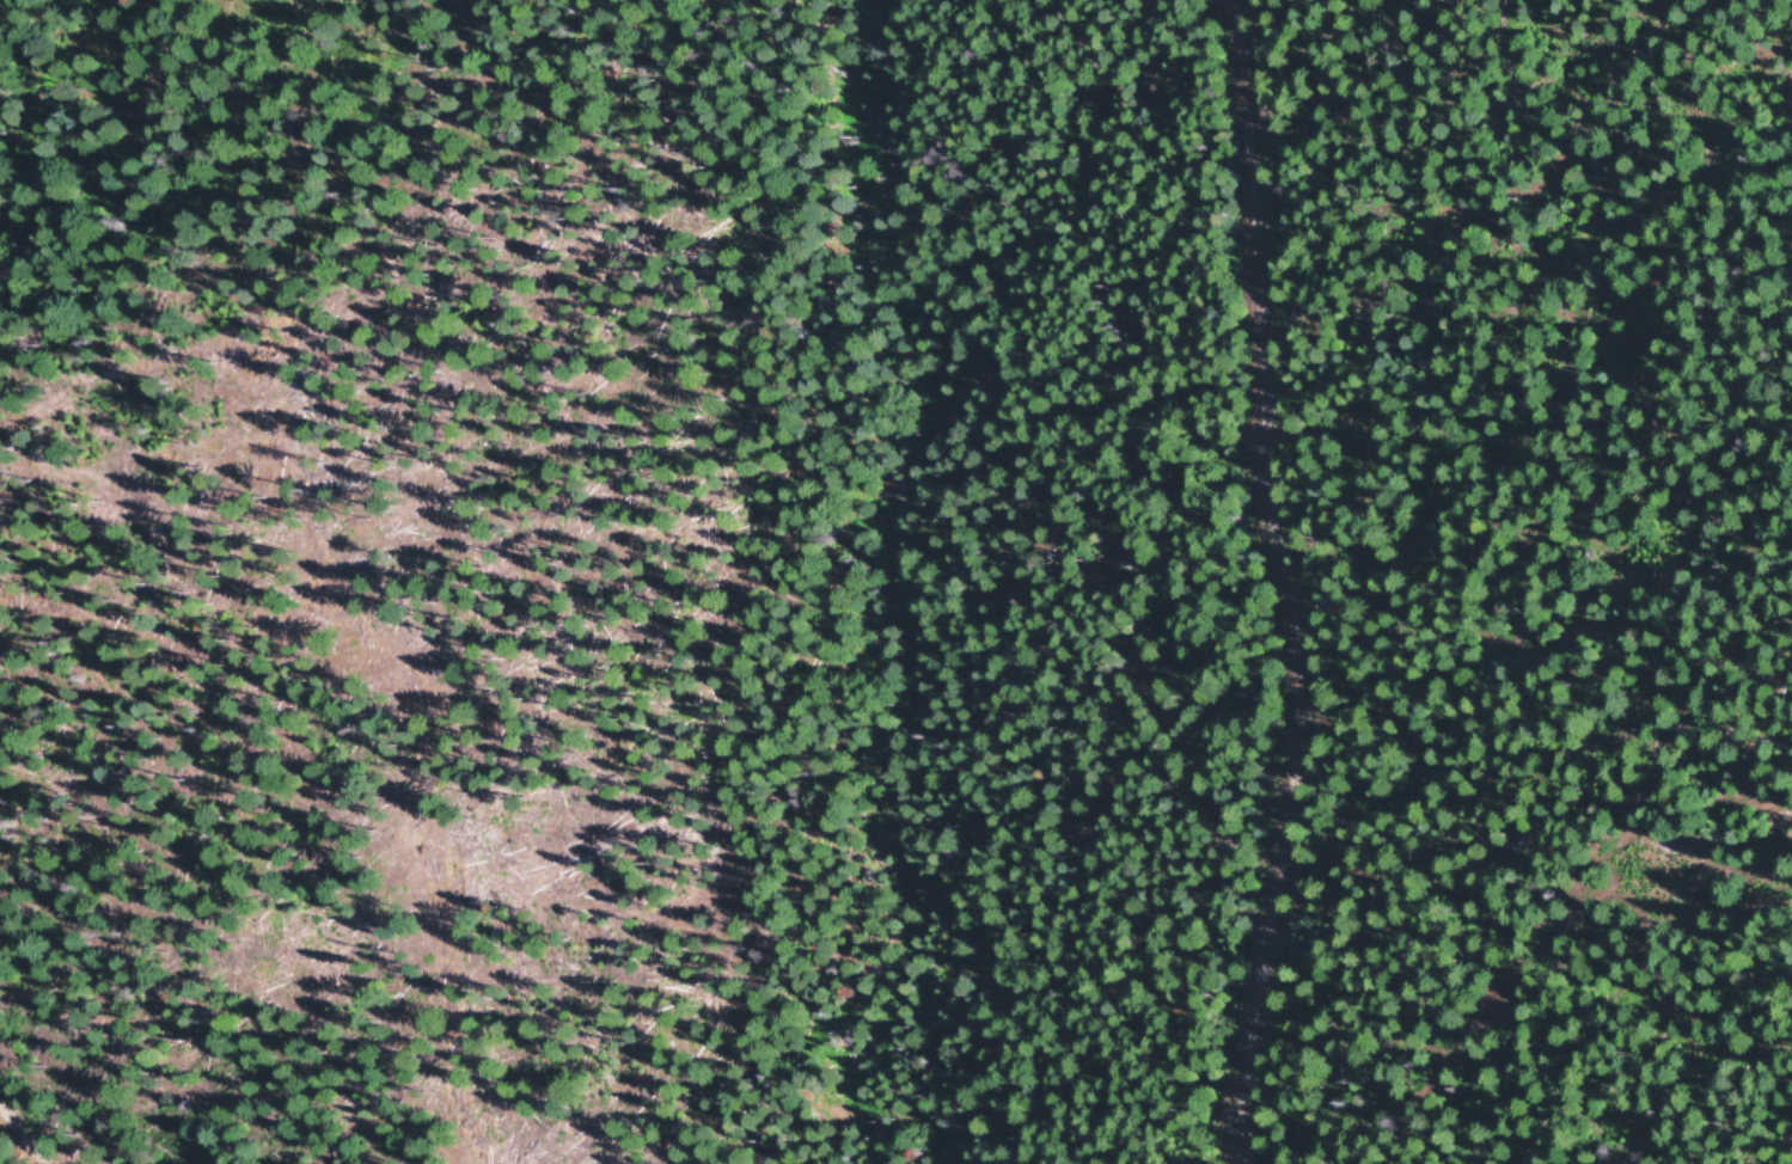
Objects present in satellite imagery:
road: (1305, 583)
road: (19, 1140)

